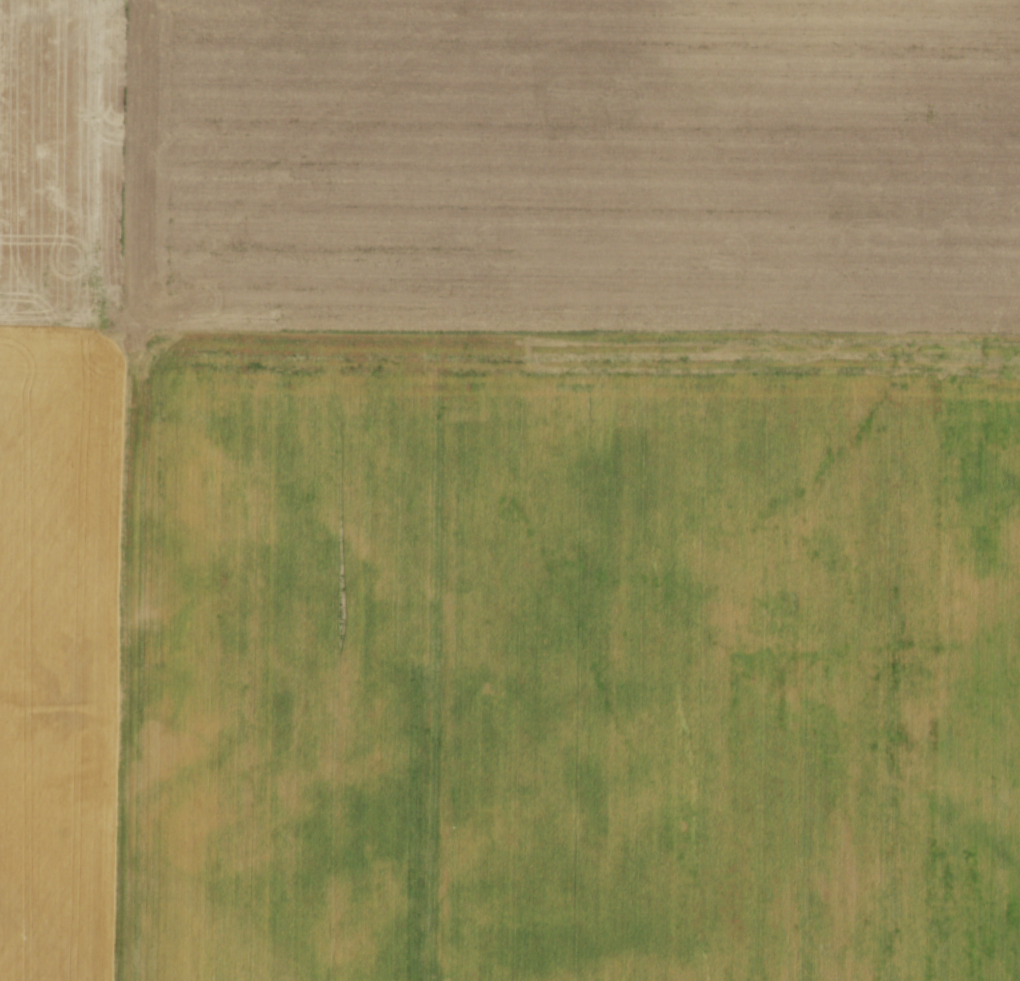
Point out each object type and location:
crop: (510, 490)

